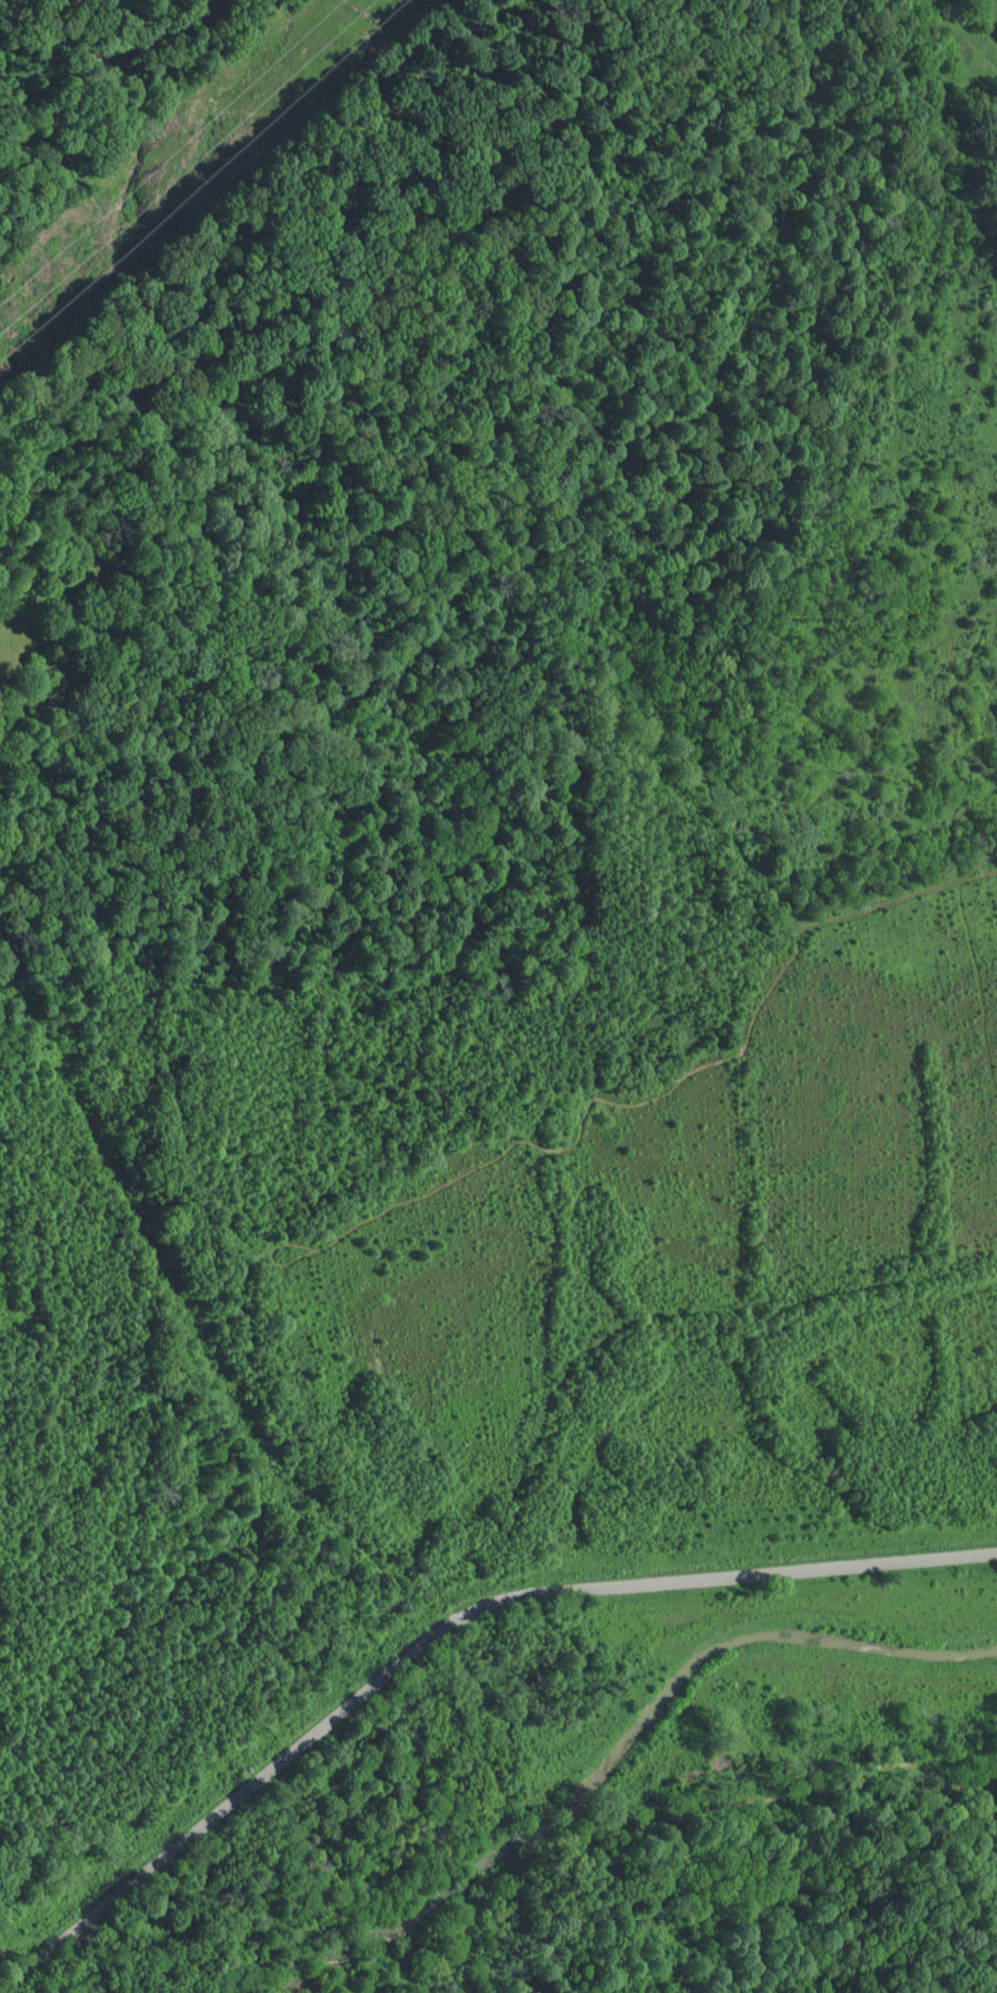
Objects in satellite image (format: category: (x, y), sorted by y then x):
road: (439, 1631)

